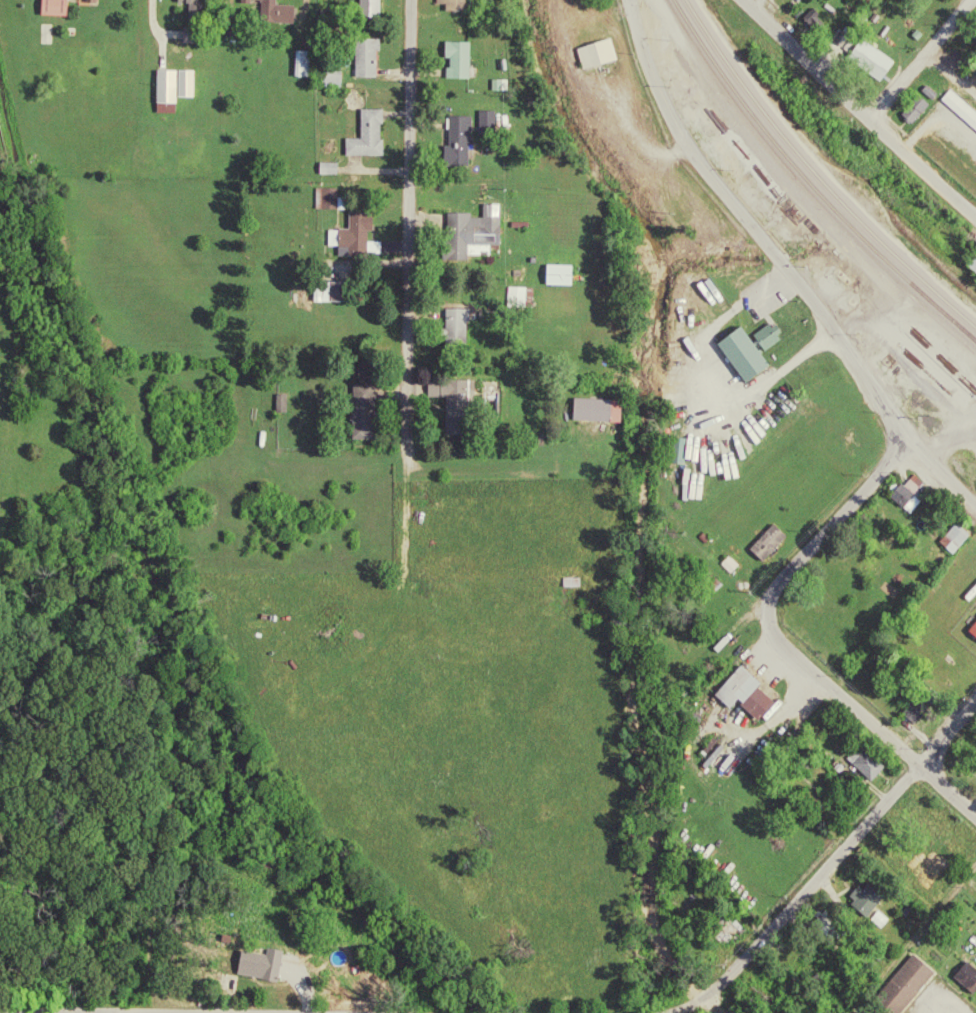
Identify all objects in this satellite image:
building: (87, 0)
building: (787, 0)
building: (453, 5)
building: (369, 7)
building: (53, 8)
building: (276, 12)
building: (815, 20)
building: (193, 22)
building: (596, 55)
building: (868, 57)
building: (367, 59)
road: (918, 59)
building: (458, 61)
road: (950, 76)
building: (187, 84)
building: (166, 87)
road: (857, 110)
building: (959, 110)
building: (916, 111)
building: (486, 123)
building: (368, 136)
building: (458, 141)
building: (328, 169)
railway: (809, 183)
building: (325, 200)
road: (406, 228)
building: (477, 228)
building: (355, 237)
road: (782, 263)
building: (973, 264)
building: (559, 276)
building: (515, 298)
building: (456, 331)
building: (768, 337)
building: (747, 356)
building: (451, 395)
building: (599, 411)
building: (908, 495)
road: (834, 518)
building: (957, 537)
building: (974, 631)
road: (834, 690)
building: (751, 694)
building: (865, 765)
road: (947, 791)
road: (826, 863)
building: (866, 899)
building: (263, 965)
building: (966, 978)
building: (902, 982)
road: (114, 1012)
road: (164, 1012)

